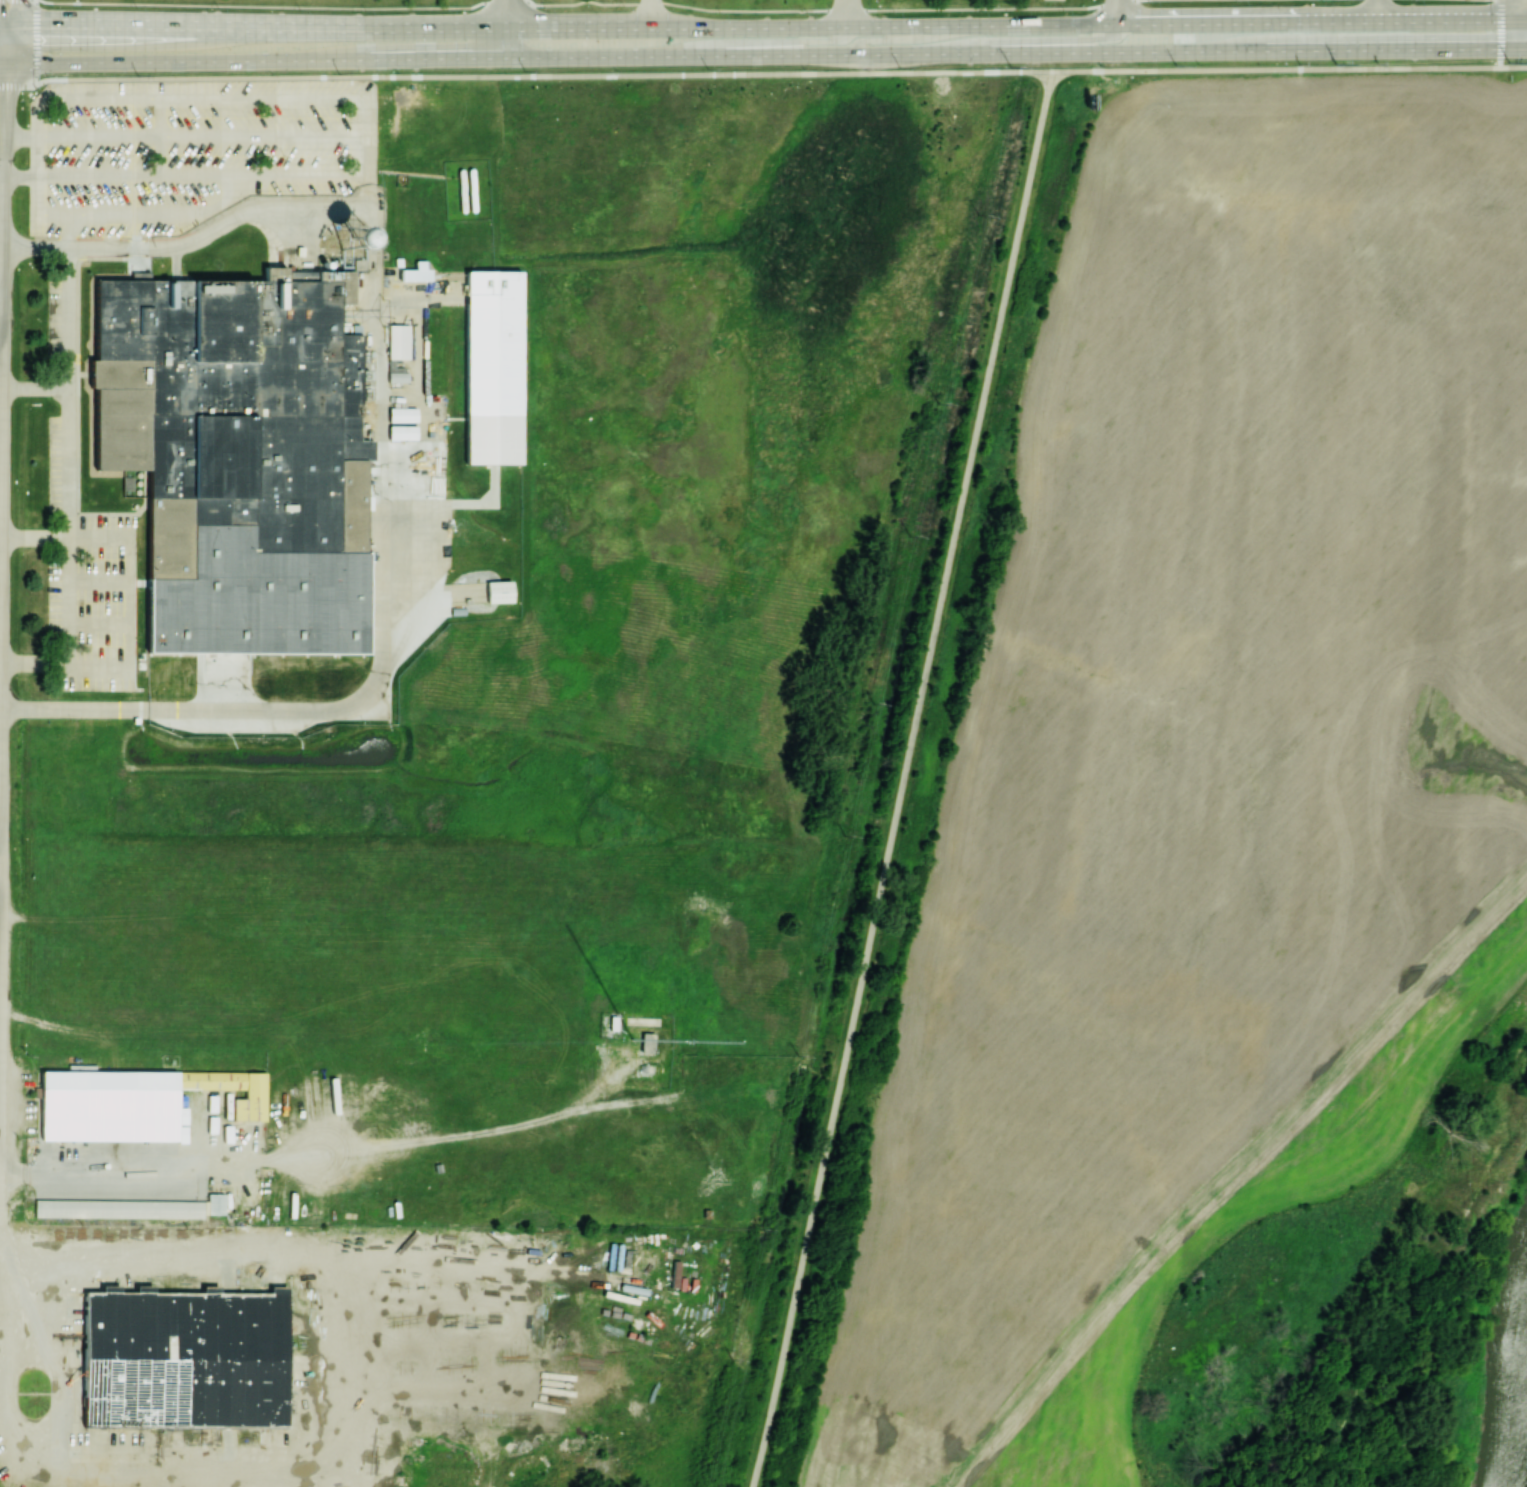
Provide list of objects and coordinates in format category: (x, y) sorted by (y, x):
road: (528, 0)
road: (585, 0)
street lamp: (138, 8)
street lamp: (545, 8)
street lamp: (625, 8)
street lamp: (222, 9)
street lamp: (449, 10)
street lamp: (302, 11)
road: (1379, 11)
road: (1115, 12)
street lamp: (369, 13)
road: (650, 13)
street lamp: (721, 13)
road: (844, 13)
street lamp: (896, 13)
street lamp: (808, 14)
traffic signals: (17, 23)
road: (1320, 23)
road: (253, 26)
road: (811, 28)
road: (507, 29)
road: (13, 32)
road: (1499, 33)
road: (900, 39)
road: (1048, 39)
road: (34, 42)
road: (785, 43)
road: (2, 50)
road: (765, 56)
power tower: (1509, 62)
power tower: (1335, 63)
road: (2, 64)
traffic signals: (4, 64)
road: (1513, 66)
road: (1276, 69)
road: (547, 75)
road: (21, 84)
street lamp: (36, 88)
road: (210, 100)
street lamp: (22, 101)
road: (41, 116)
road: (207, 136)
road: (162, 139)
road: (373, 140)
road: (41, 157)
road: (206, 178)
road: (372, 183)
road: (372, 197)
road: (42, 199)
road: (153, 220)
road: (72, 234)
building: (353, 236)
water tower: (353, 237)
road: (105, 248)
road: (1, 301)
building: (397, 341)
road: (1, 346)
building: (492, 367)
road: (37, 390)
building: (232, 426)
road: (71, 457)
road: (378, 516)
road: (2, 530)
road: (36, 540)
road: (1, 563)
building: (498, 591)
road: (0, 757)
road: (902, 779)
building: (646, 1042)
building: (210, 1080)
building: (96, 1096)
building: (251, 1099)
road: (99, 1171)
building: (215, 1203)
building: (118, 1208)
road: (1, 1242)
building: (184, 1358)
river: (1509, 1373)
road: (322, 1443)

